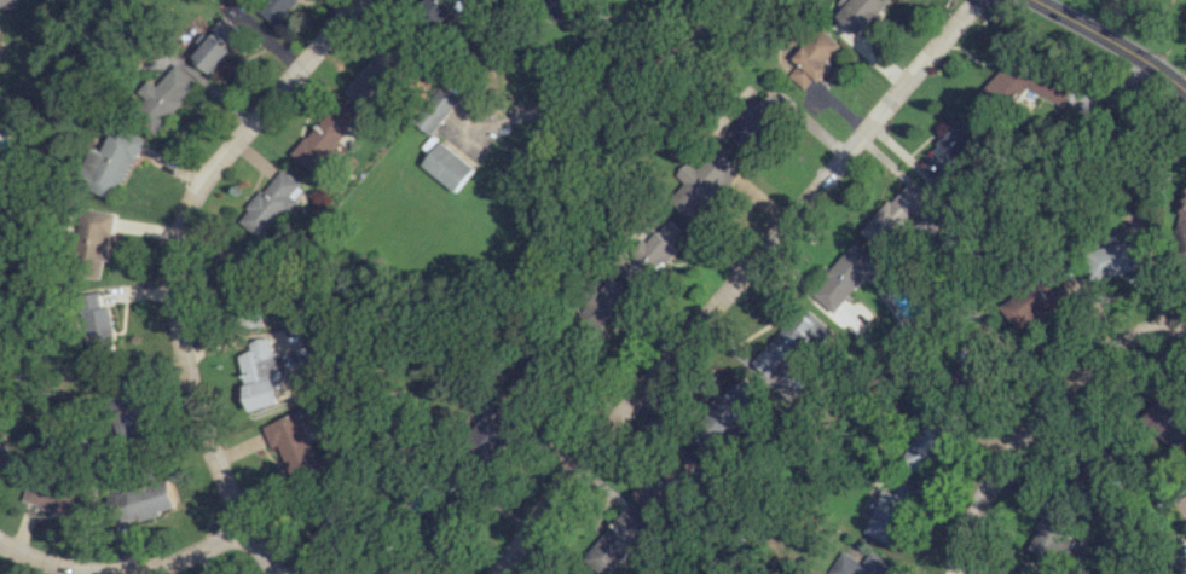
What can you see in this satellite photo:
building: (8, 4)
building: (440, 6)
building: (273, 8)
building: (858, 12)
park: (1142, 28)
road: (1111, 41)
building: (218, 46)
building: (810, 58)
road: (641, 66)
building: (375, 77)
building: (166, 95)
building: (434, 112)
building: (750, 126)
building: (323, 139)
building: (955, 146)
building: (111, 163)
building: (447, 167)
building: (701, 182)
building: (271, 204)
building: (893, 216)
building: (1181, 224)
building: (653, 253)
building: (1120, 257)
road: (175, 268)
building: (843, 277)
road: (734, 284)
building: (606, 301)
building: (1036, 302)
building: (99, 334)
building: (789, 341)
building: (973, 372)
building: (260, 373)
building: (532, 375)
road: (1036, 412)
building: (131, 414)
building: (1168, 422)
building: (496, 431)
road: (683, 435)
building: (927, 441)
building: (291, 443)
road: (679, 443)
building: (5, 458)
building: (655, 493)
building: (56, 500)
building: (144, 501)
building: (890, 514)
building: (441, 520)
building: (619, 543)
building: (858, 564)
road: (122, 568)
building: (390, 570)
building: (1026, 572)

